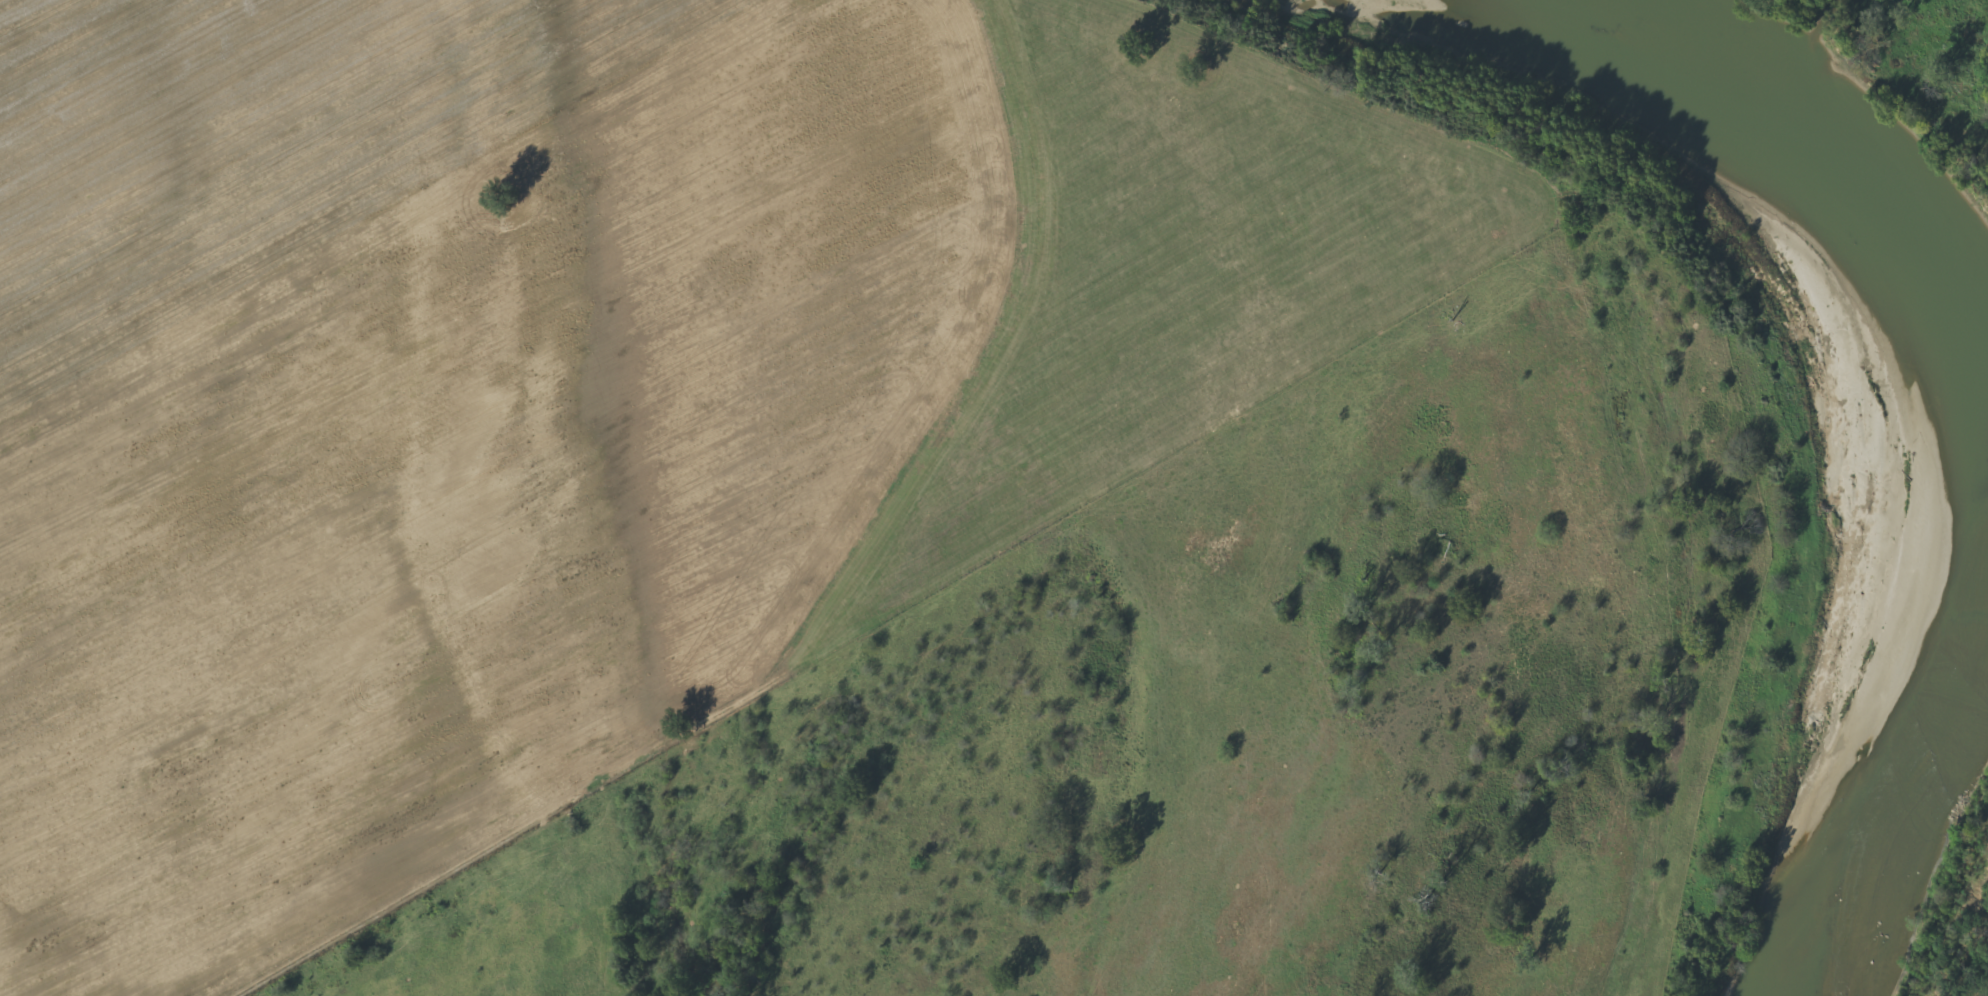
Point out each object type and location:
river: (1915, 378)

